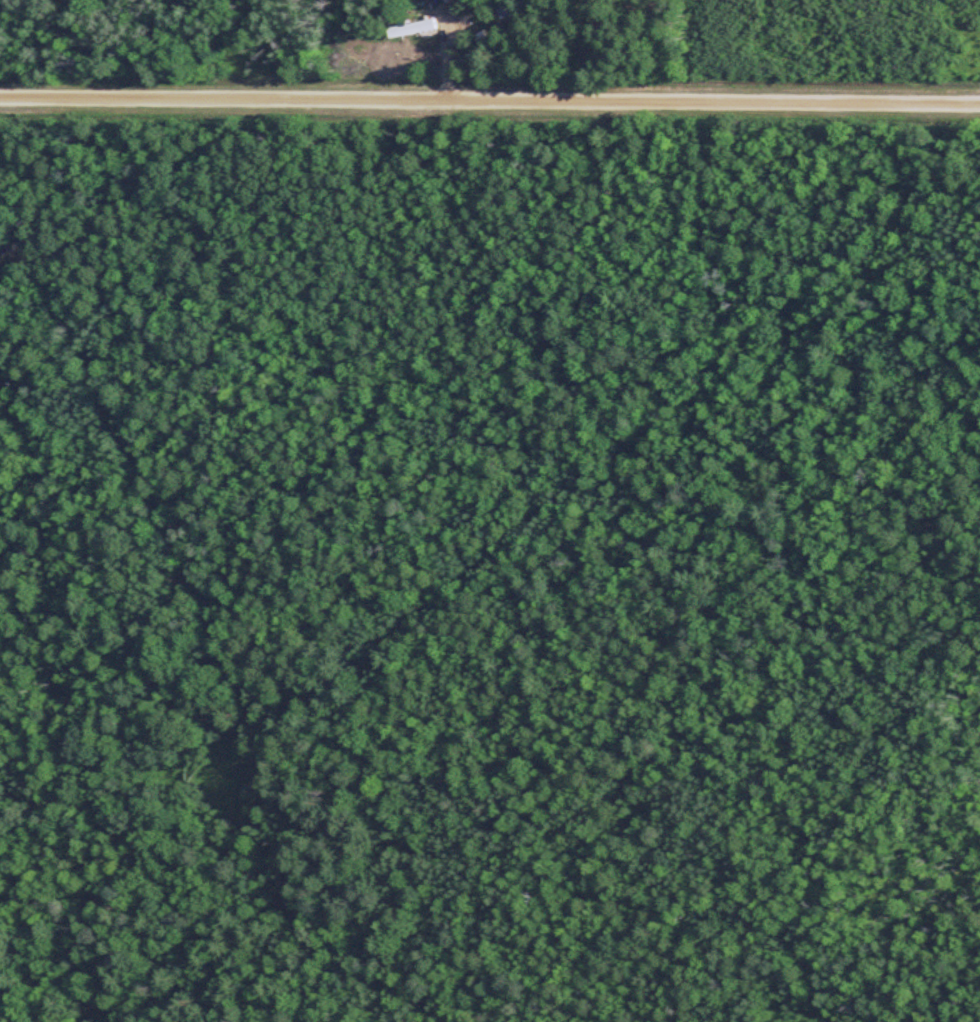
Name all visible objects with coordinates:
building: (433, 15)
road: (490, 104)
building: (3, 245)

